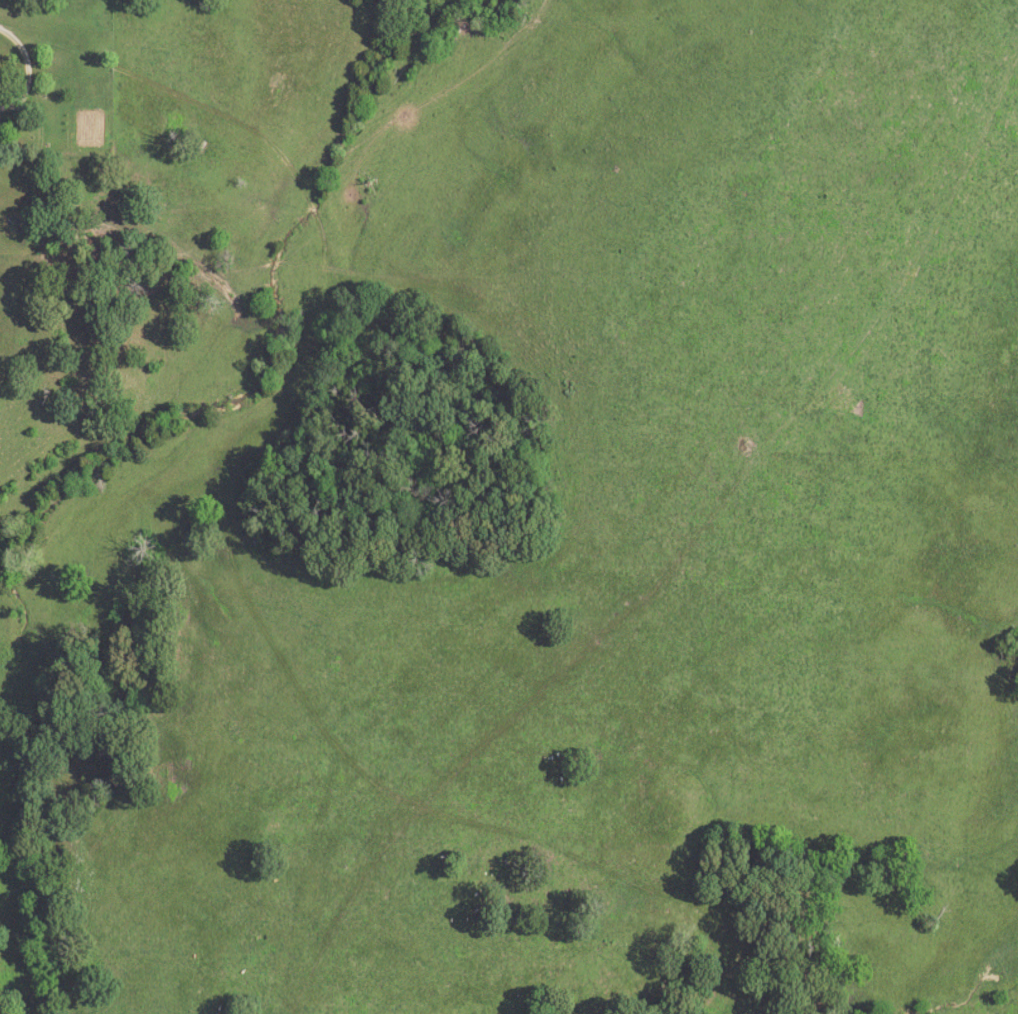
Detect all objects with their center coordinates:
road: (16, 68)

